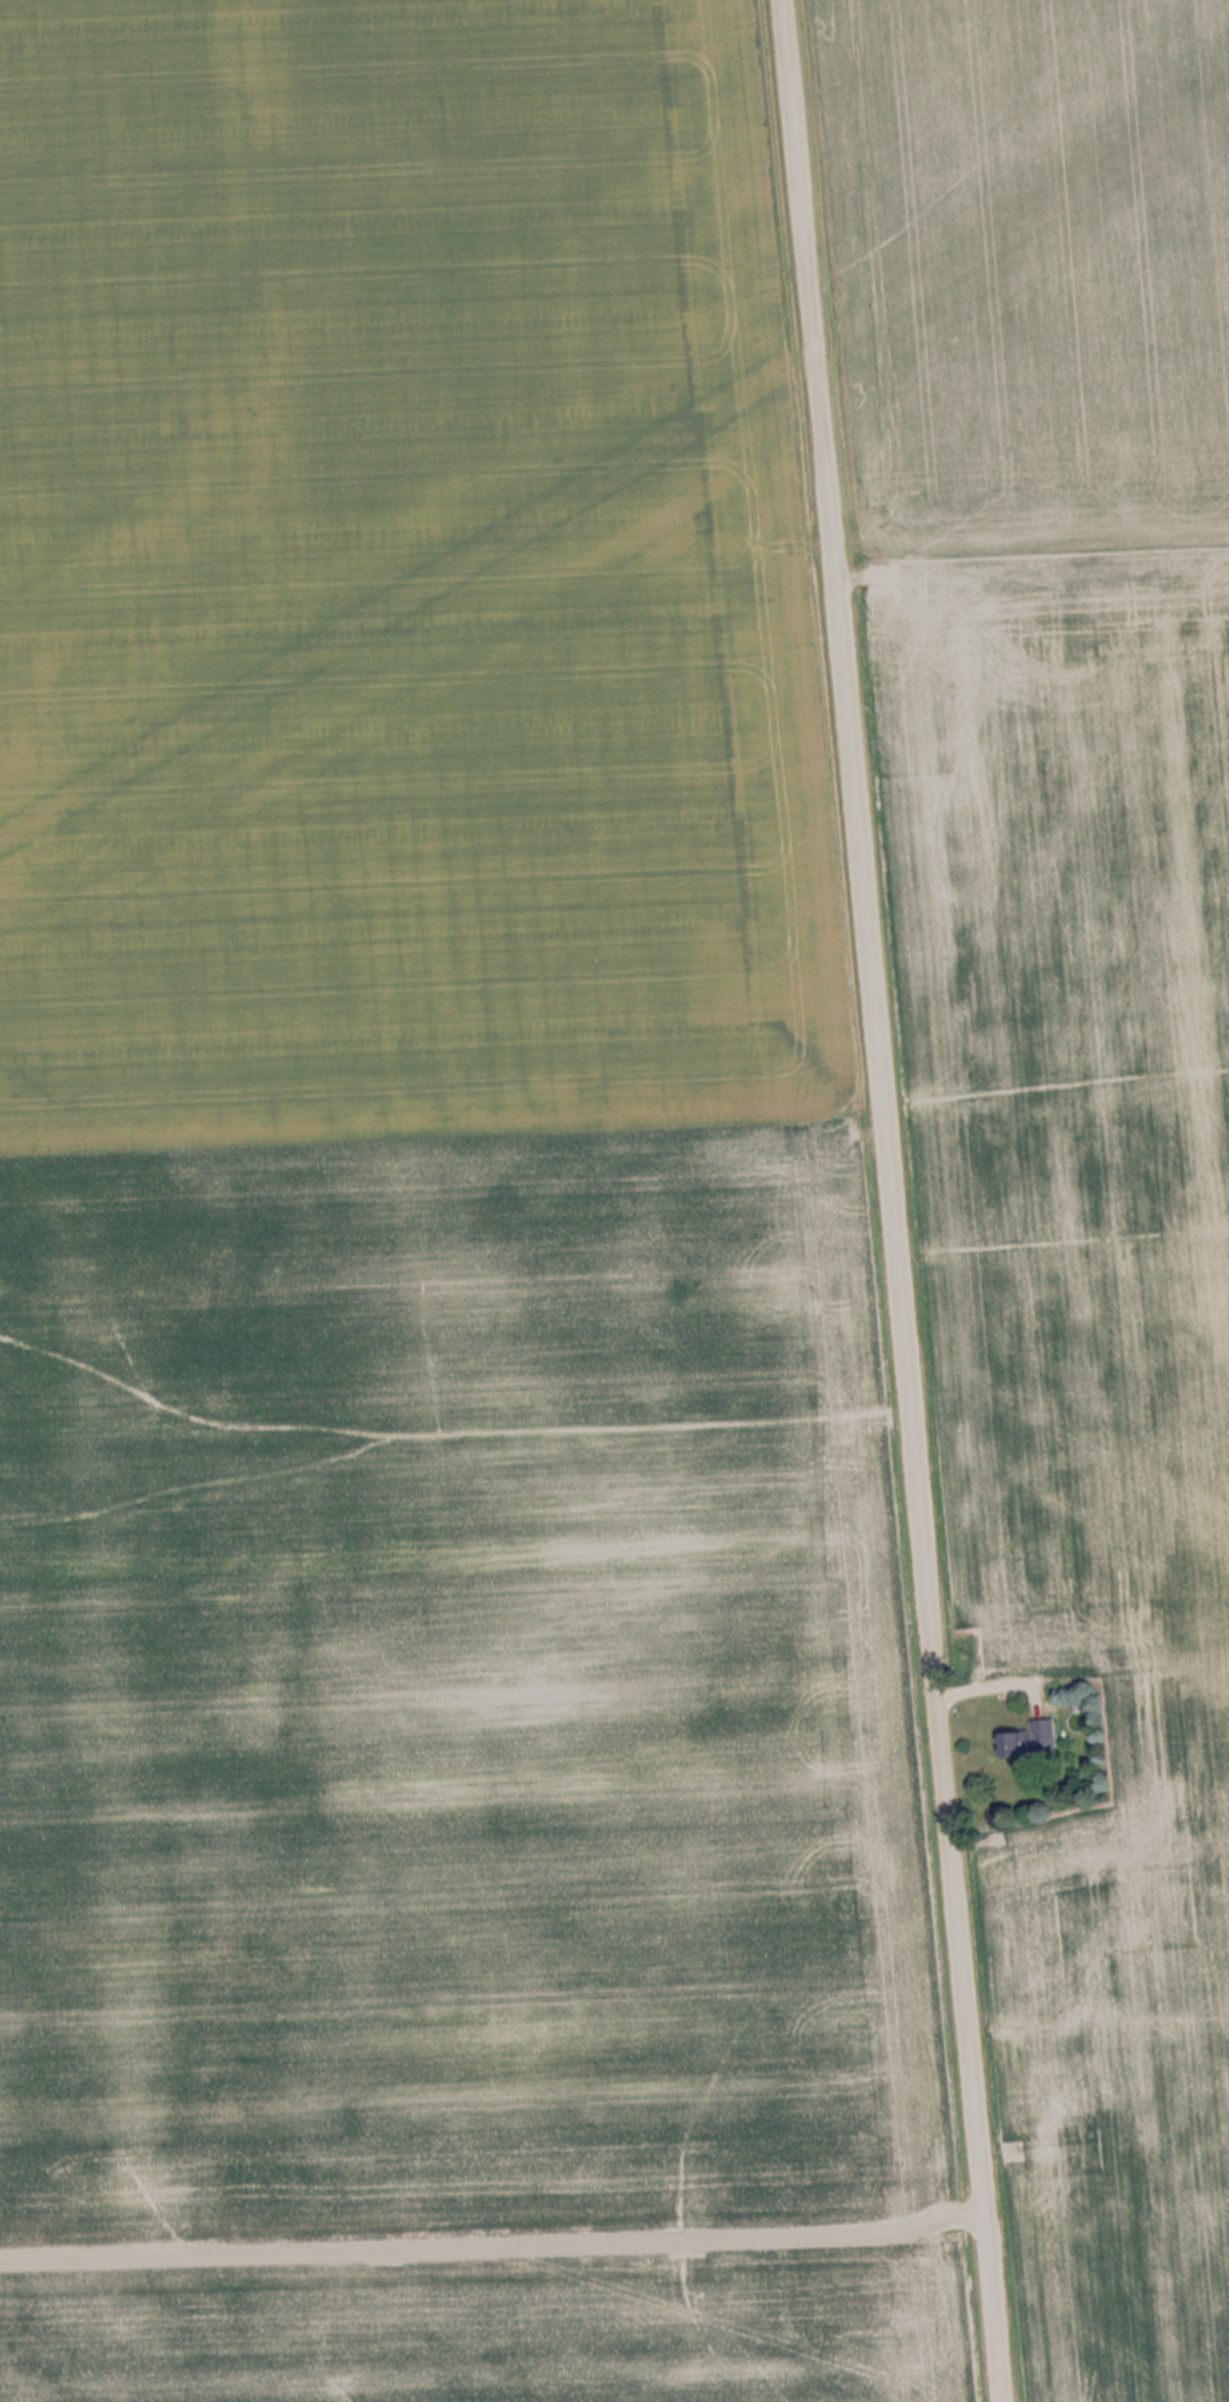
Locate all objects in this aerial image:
road: (884, 1200)
building: (1036, 1743)

